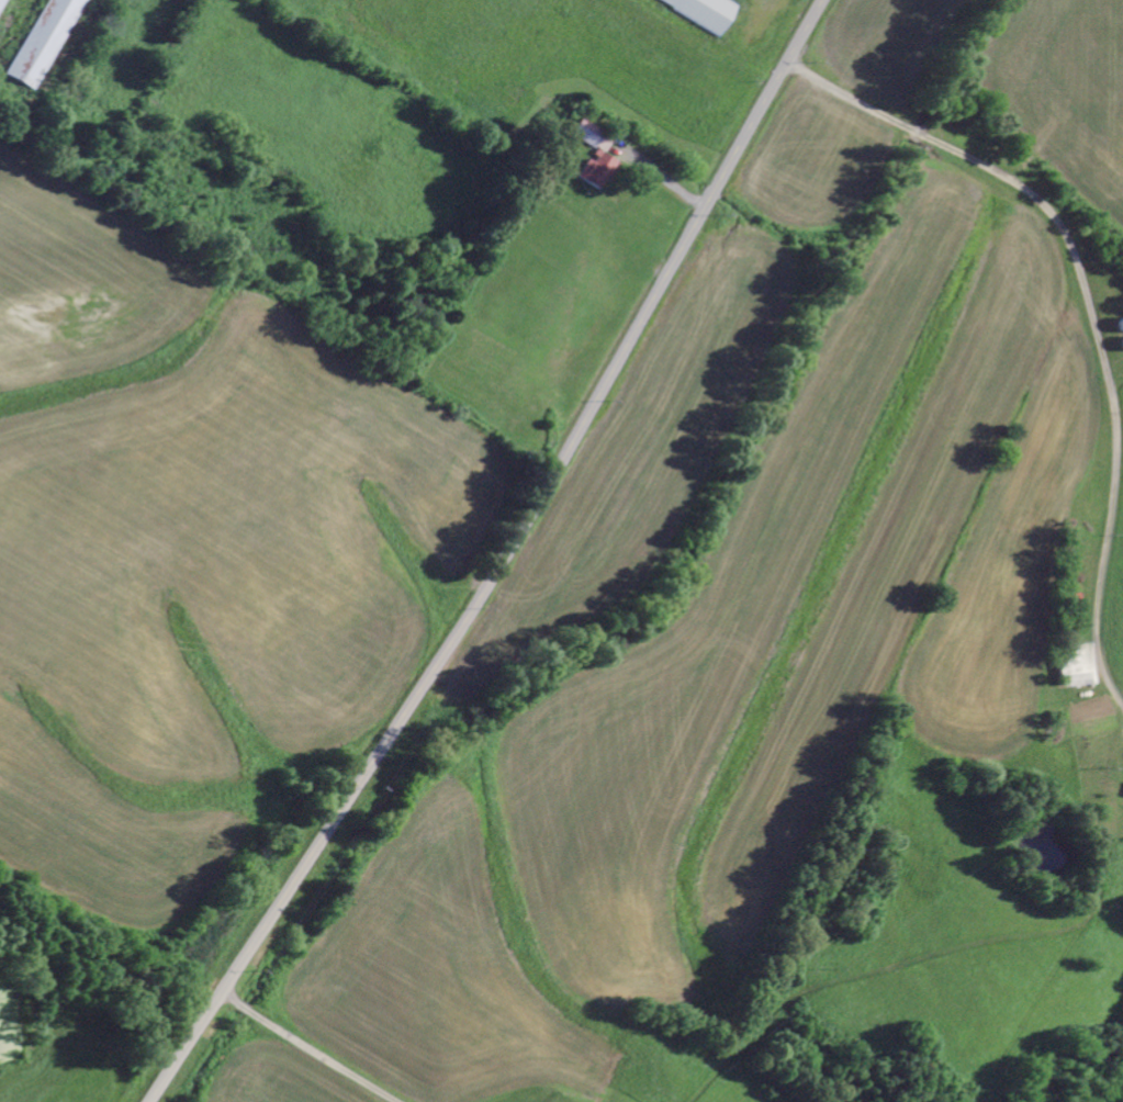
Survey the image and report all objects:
building: (2, 4)
building: (711, 10)
building: (48, 43)
building: (588, 133)
building: (606, 143)
building: (599, 170)
road: (965, 339)
road: (503, 561)
building: (1077, 666)

